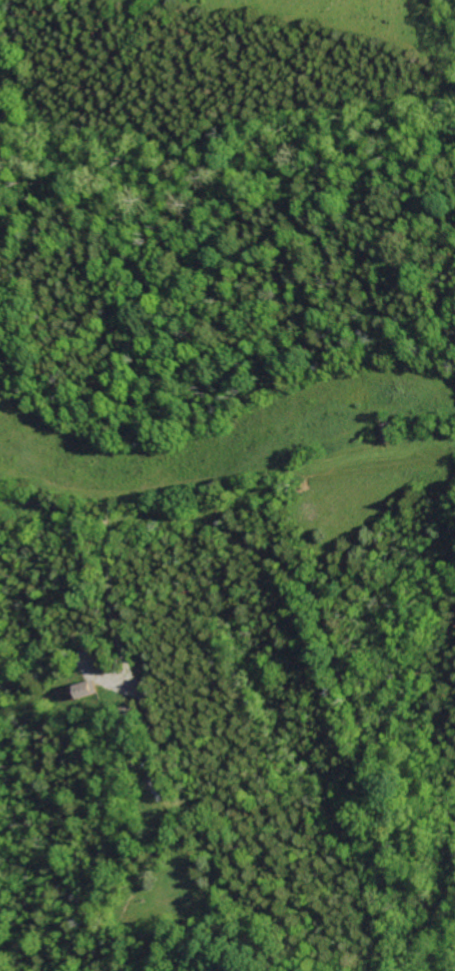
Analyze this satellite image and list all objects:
building: (87, 689)

